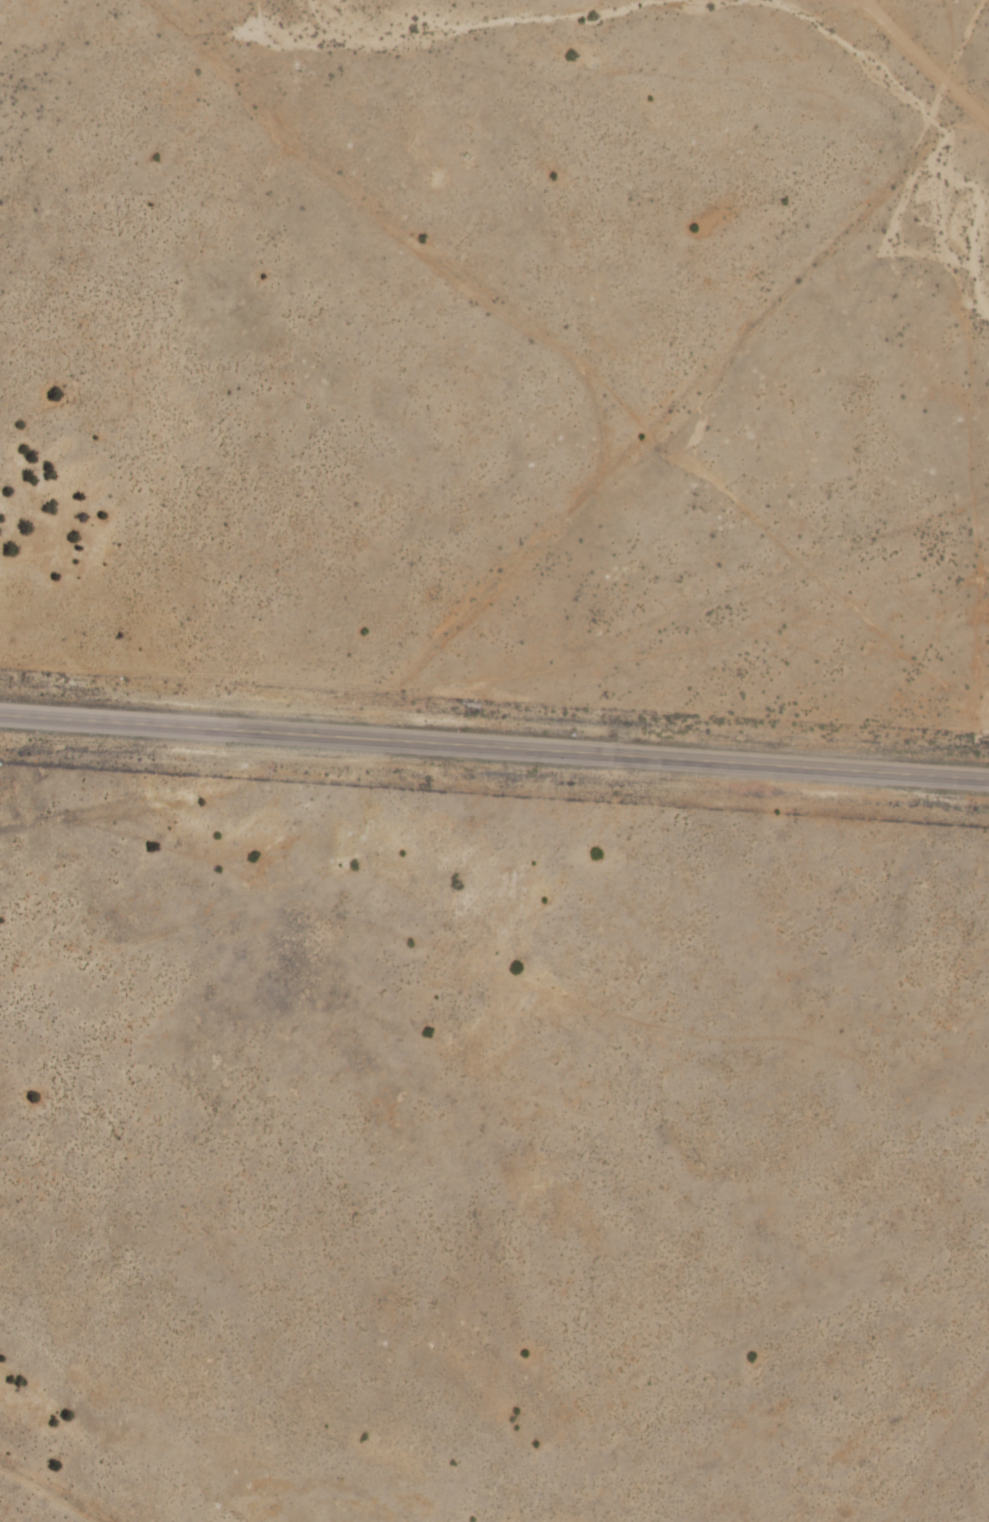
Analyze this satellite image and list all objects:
road: (494, 746)

